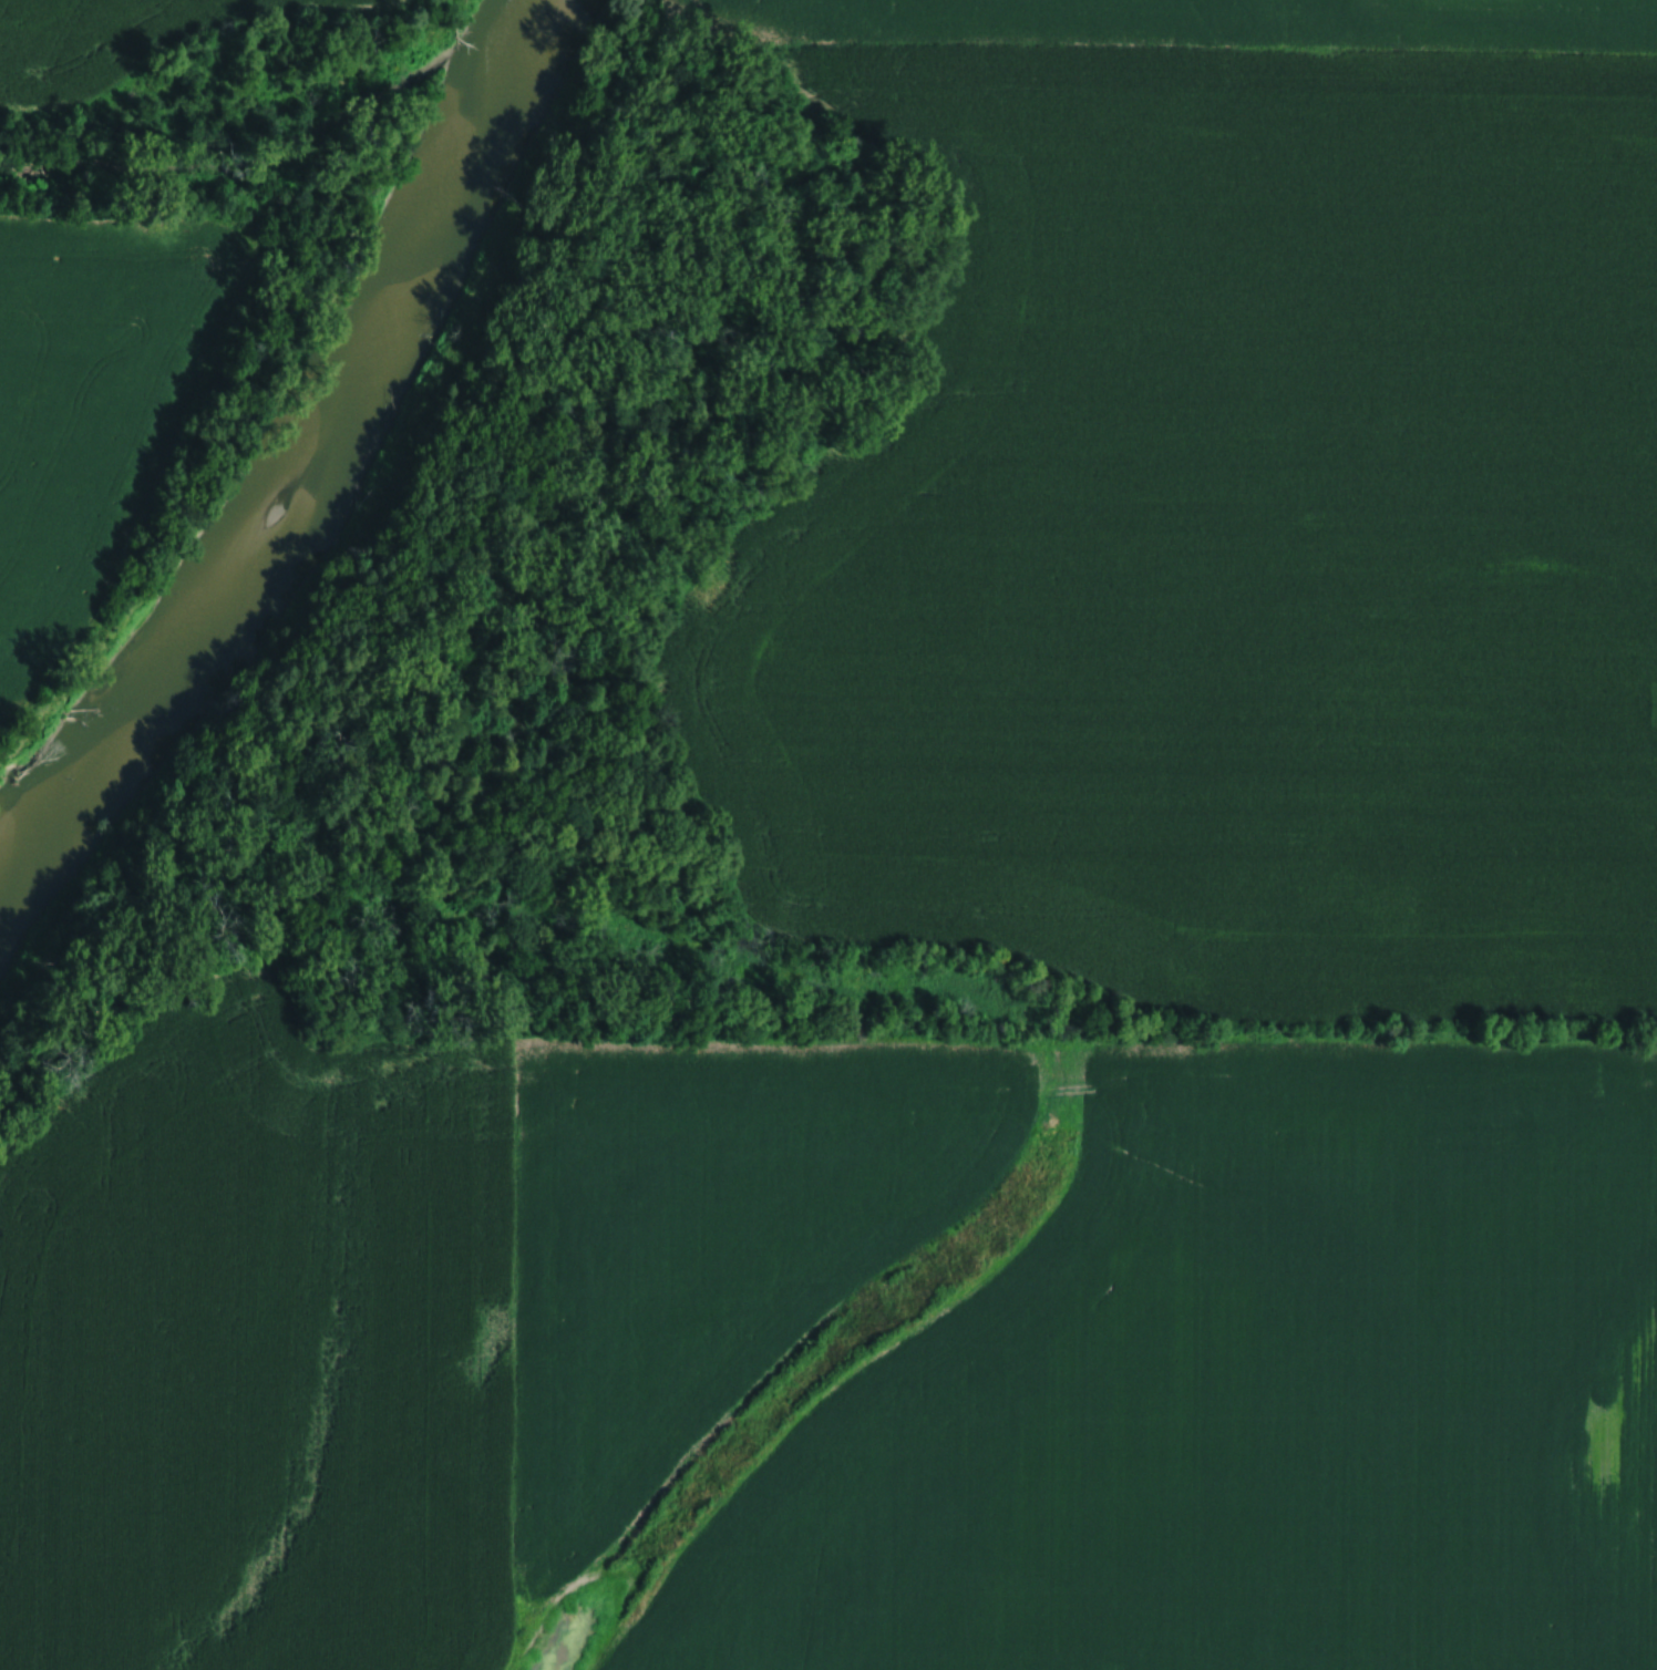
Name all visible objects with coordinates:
river: (317, 468)

